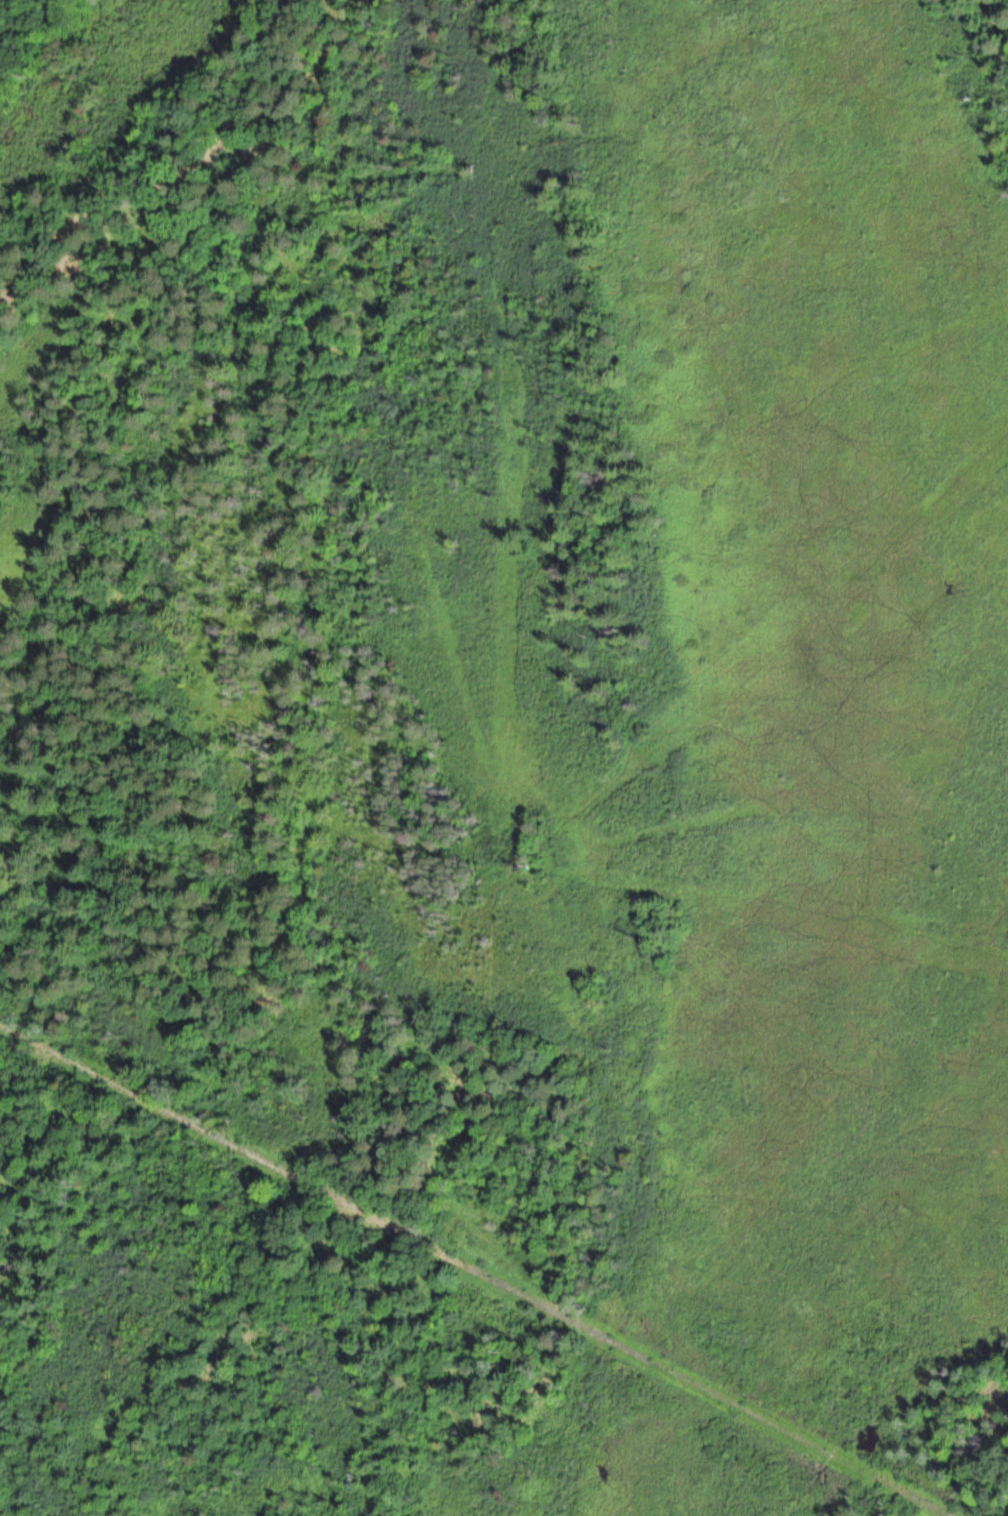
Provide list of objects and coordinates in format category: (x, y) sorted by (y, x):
railway: (476, 1270)

